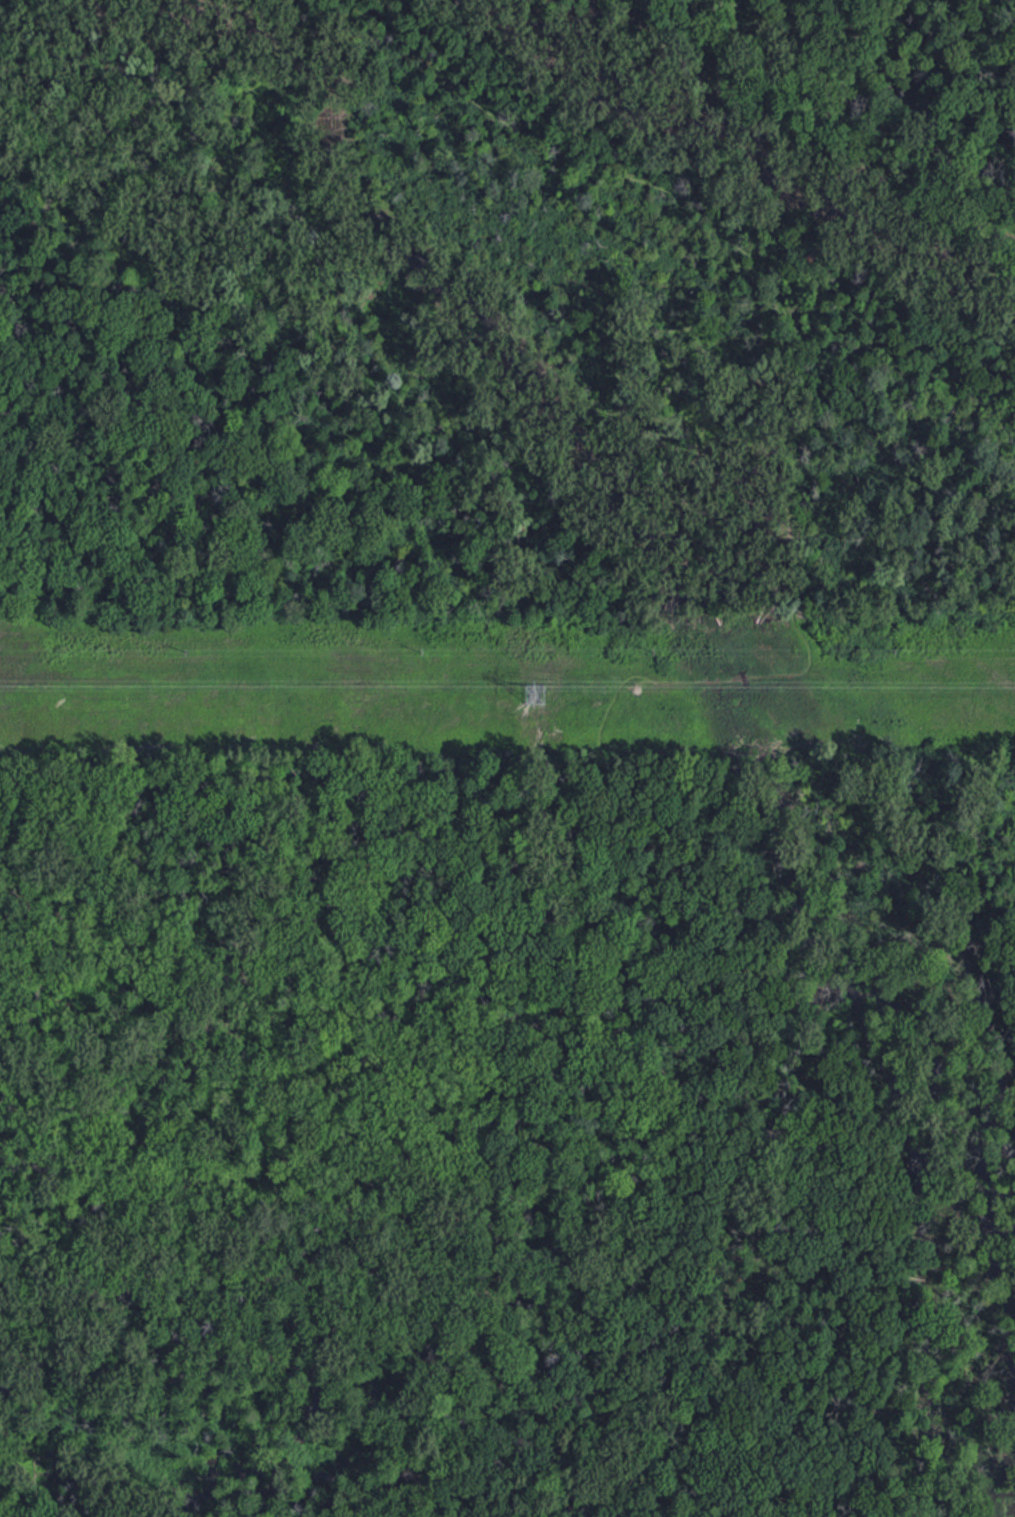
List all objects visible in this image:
road: (970, 42)
power tower: (534, 694)

